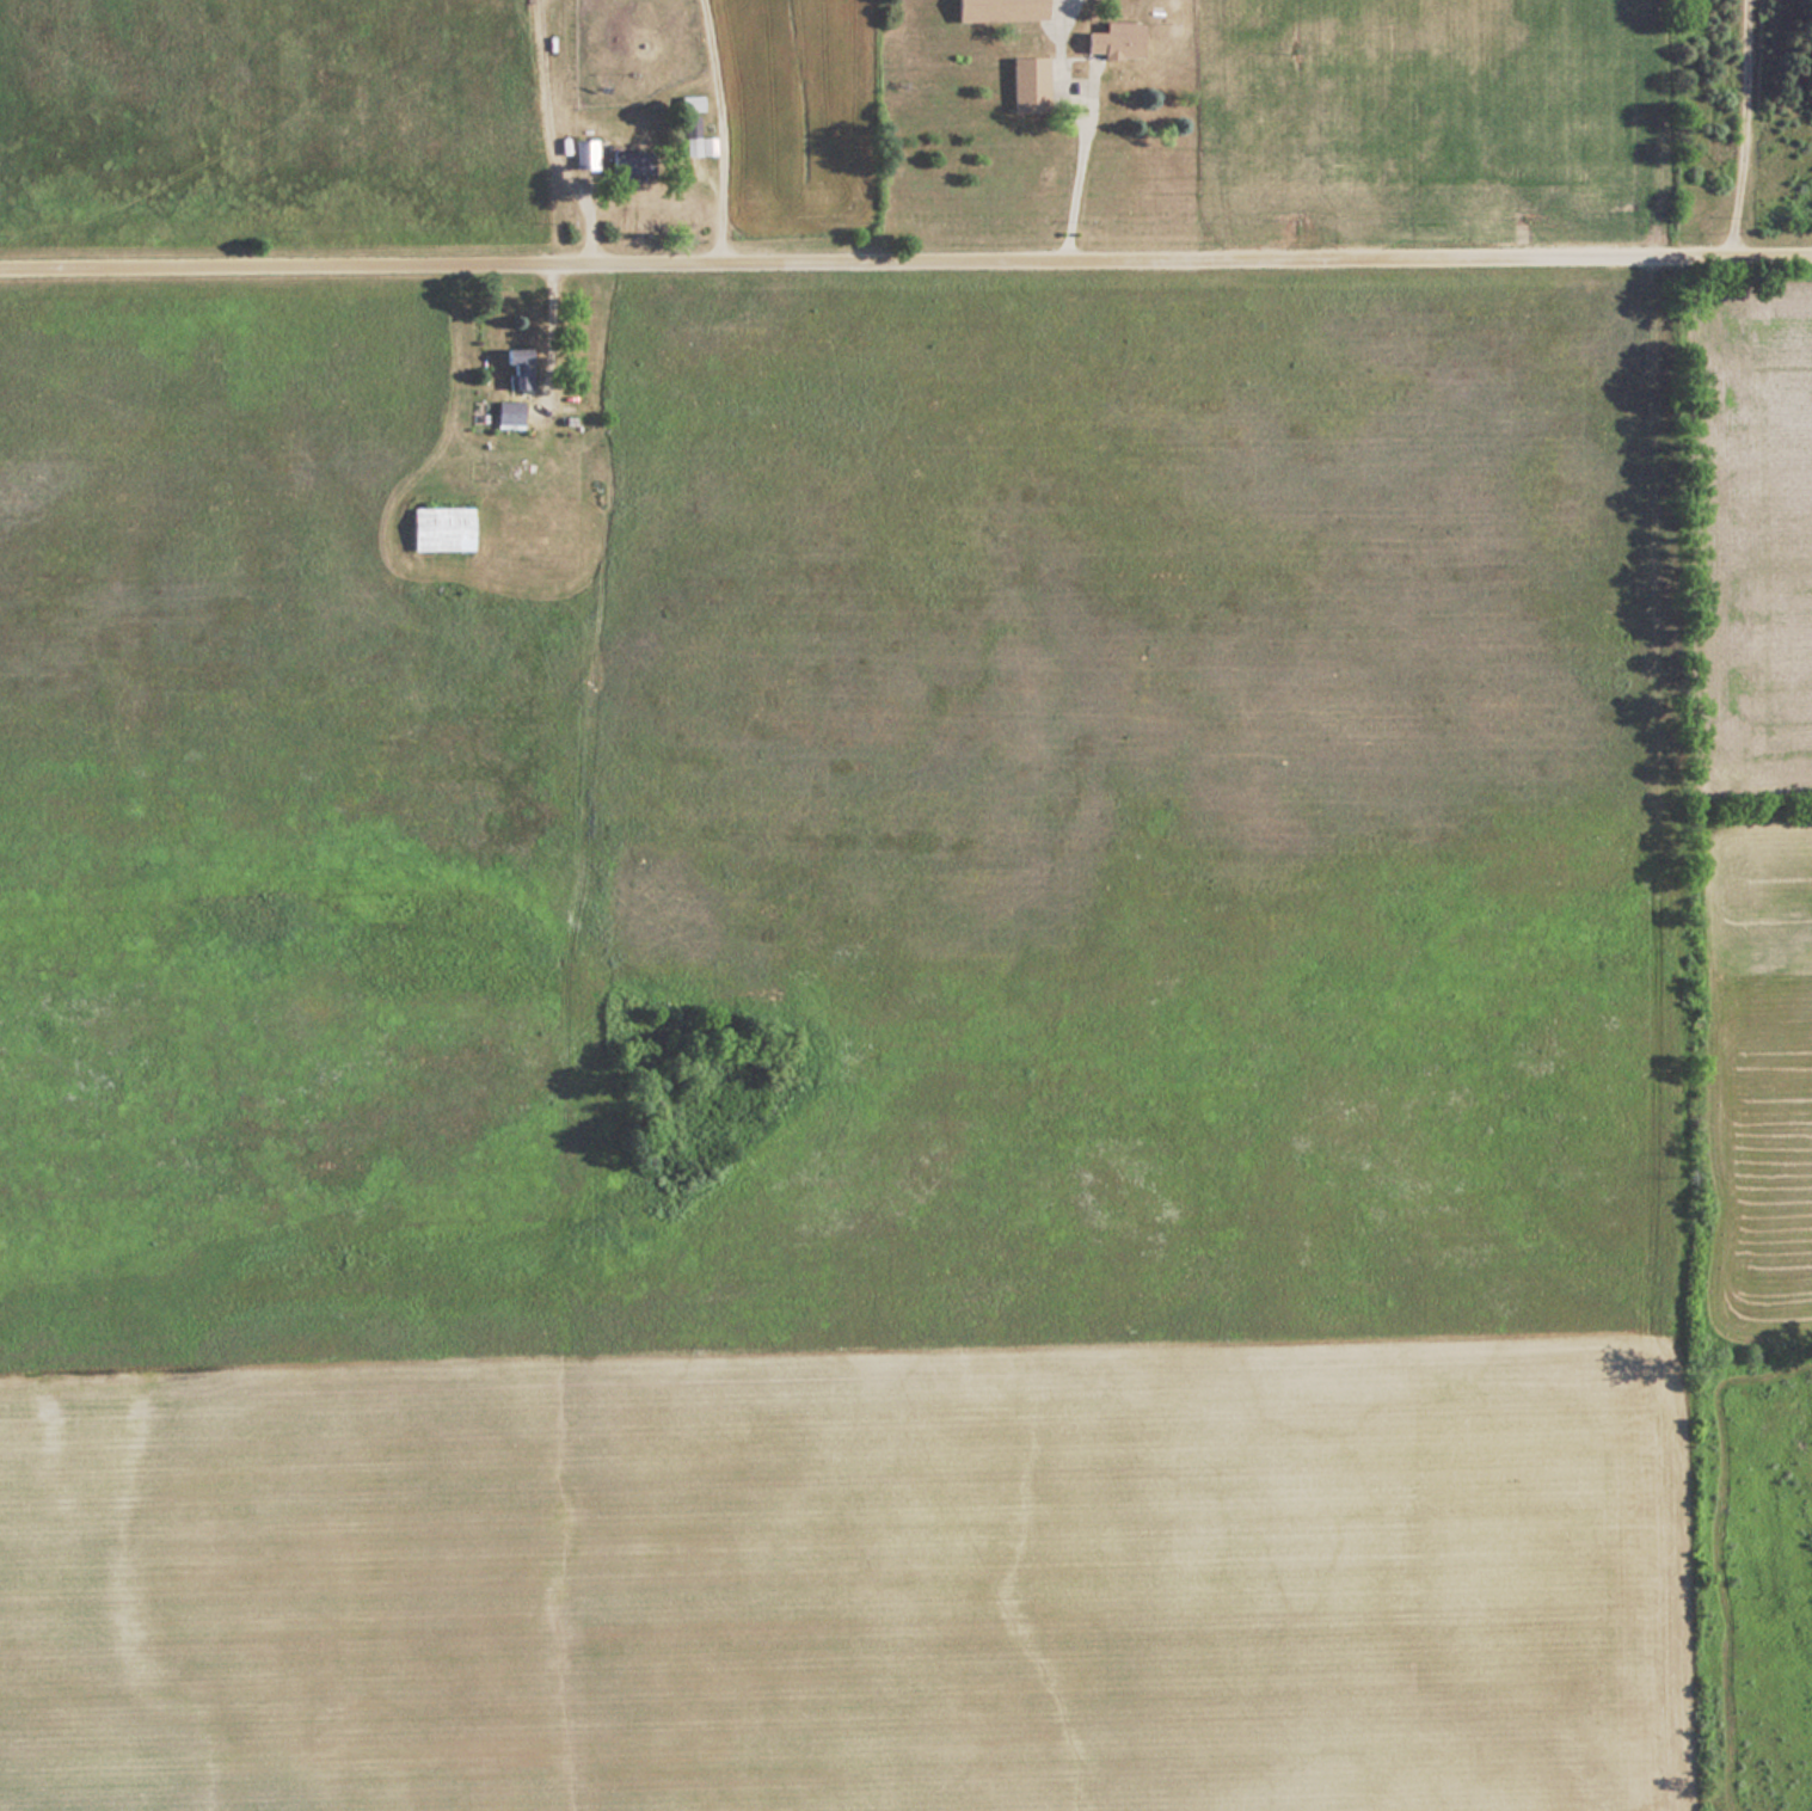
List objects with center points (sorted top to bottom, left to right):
building: (995, 10)
building: (1111, 42)
building: (1025, 86)
building: (689, 135)
building: (583, 154)
building: (626, 160)
road: (905, 264)
building: (512, 366)
building: (505, 410)
building: (438, 528)

